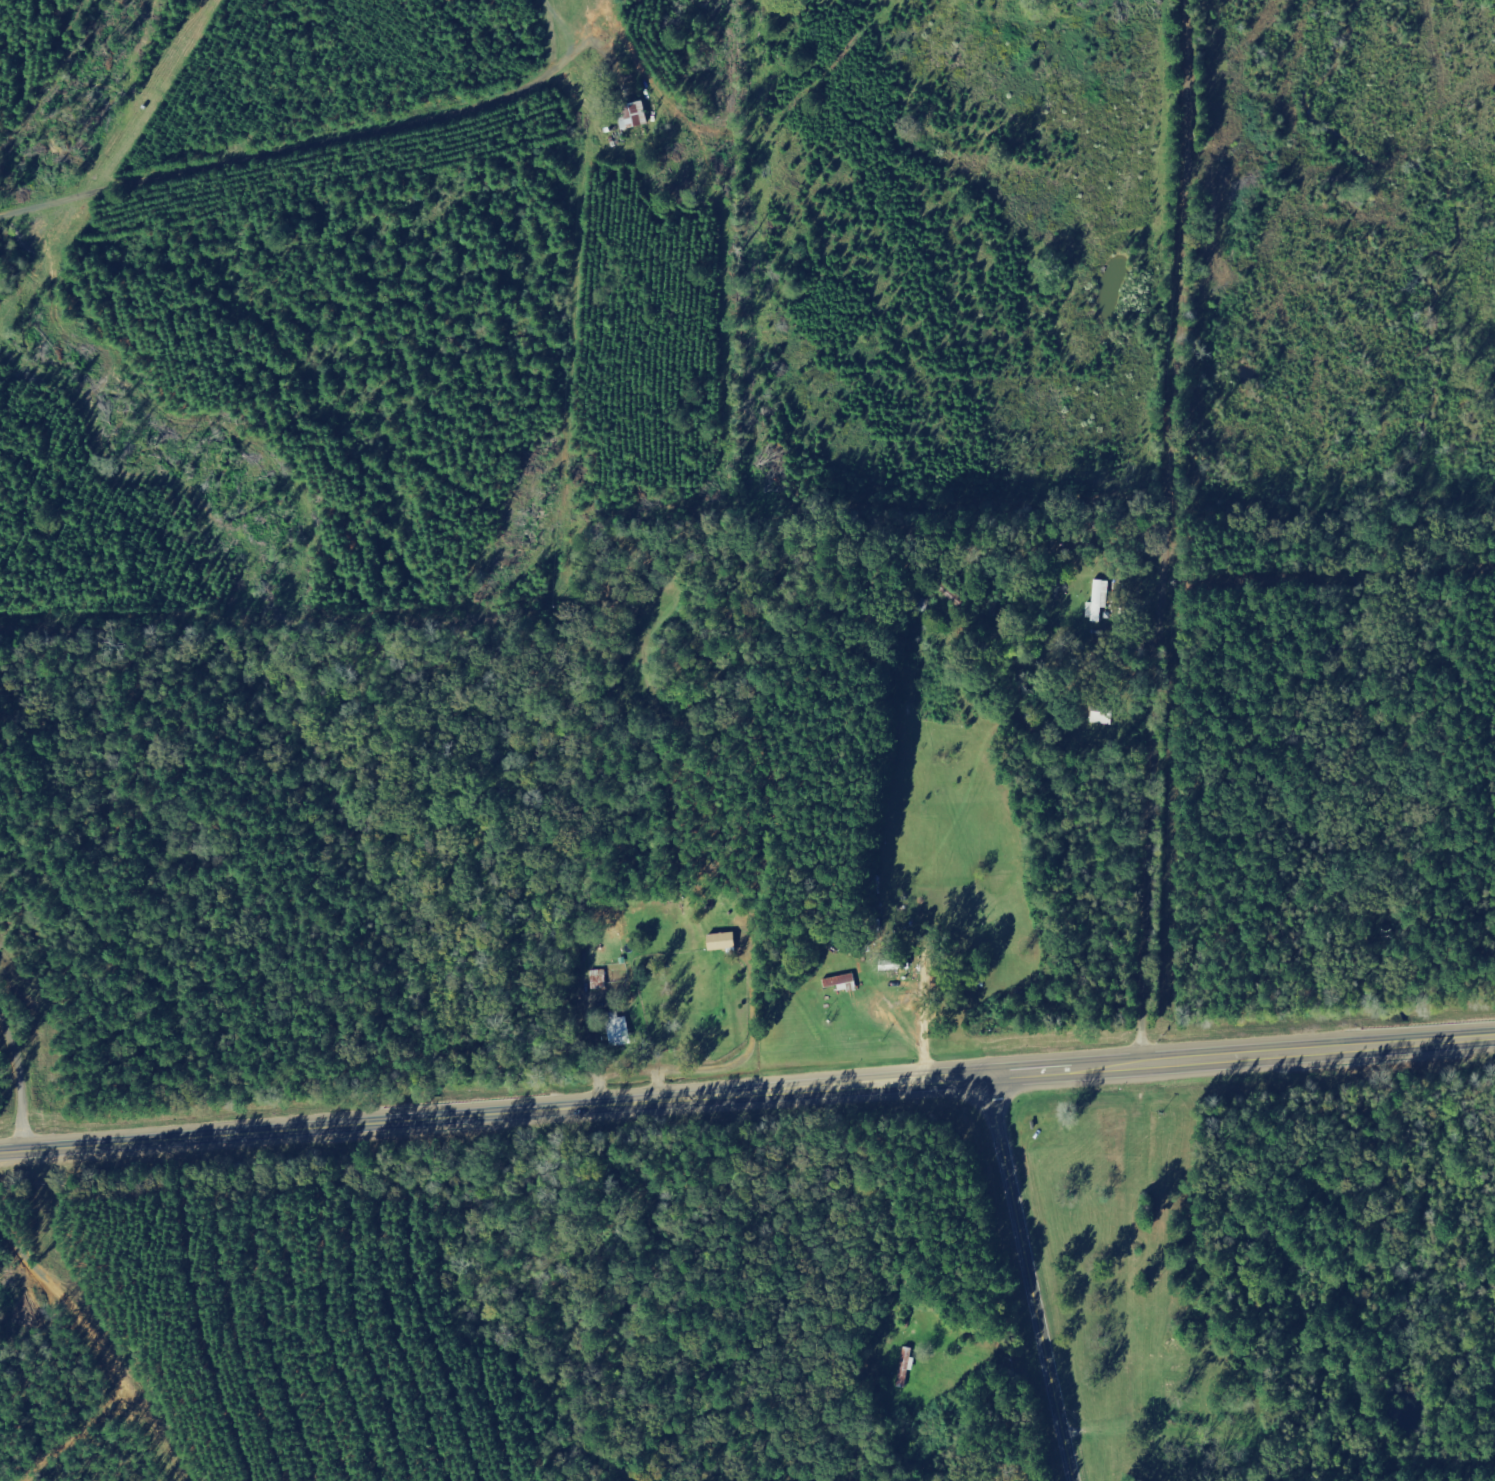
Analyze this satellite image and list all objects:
building: (629, 115)
road: (314, 160)
road: (1192, 363)
building: (1096, 600)
road: (1157, 712)
building: (718, 942)
building: (892, 966)
building: (839, 983)
road: (1241, 1057)
road: (34, 1059)
road: (493, 1110)
road: (1030, 1278)

